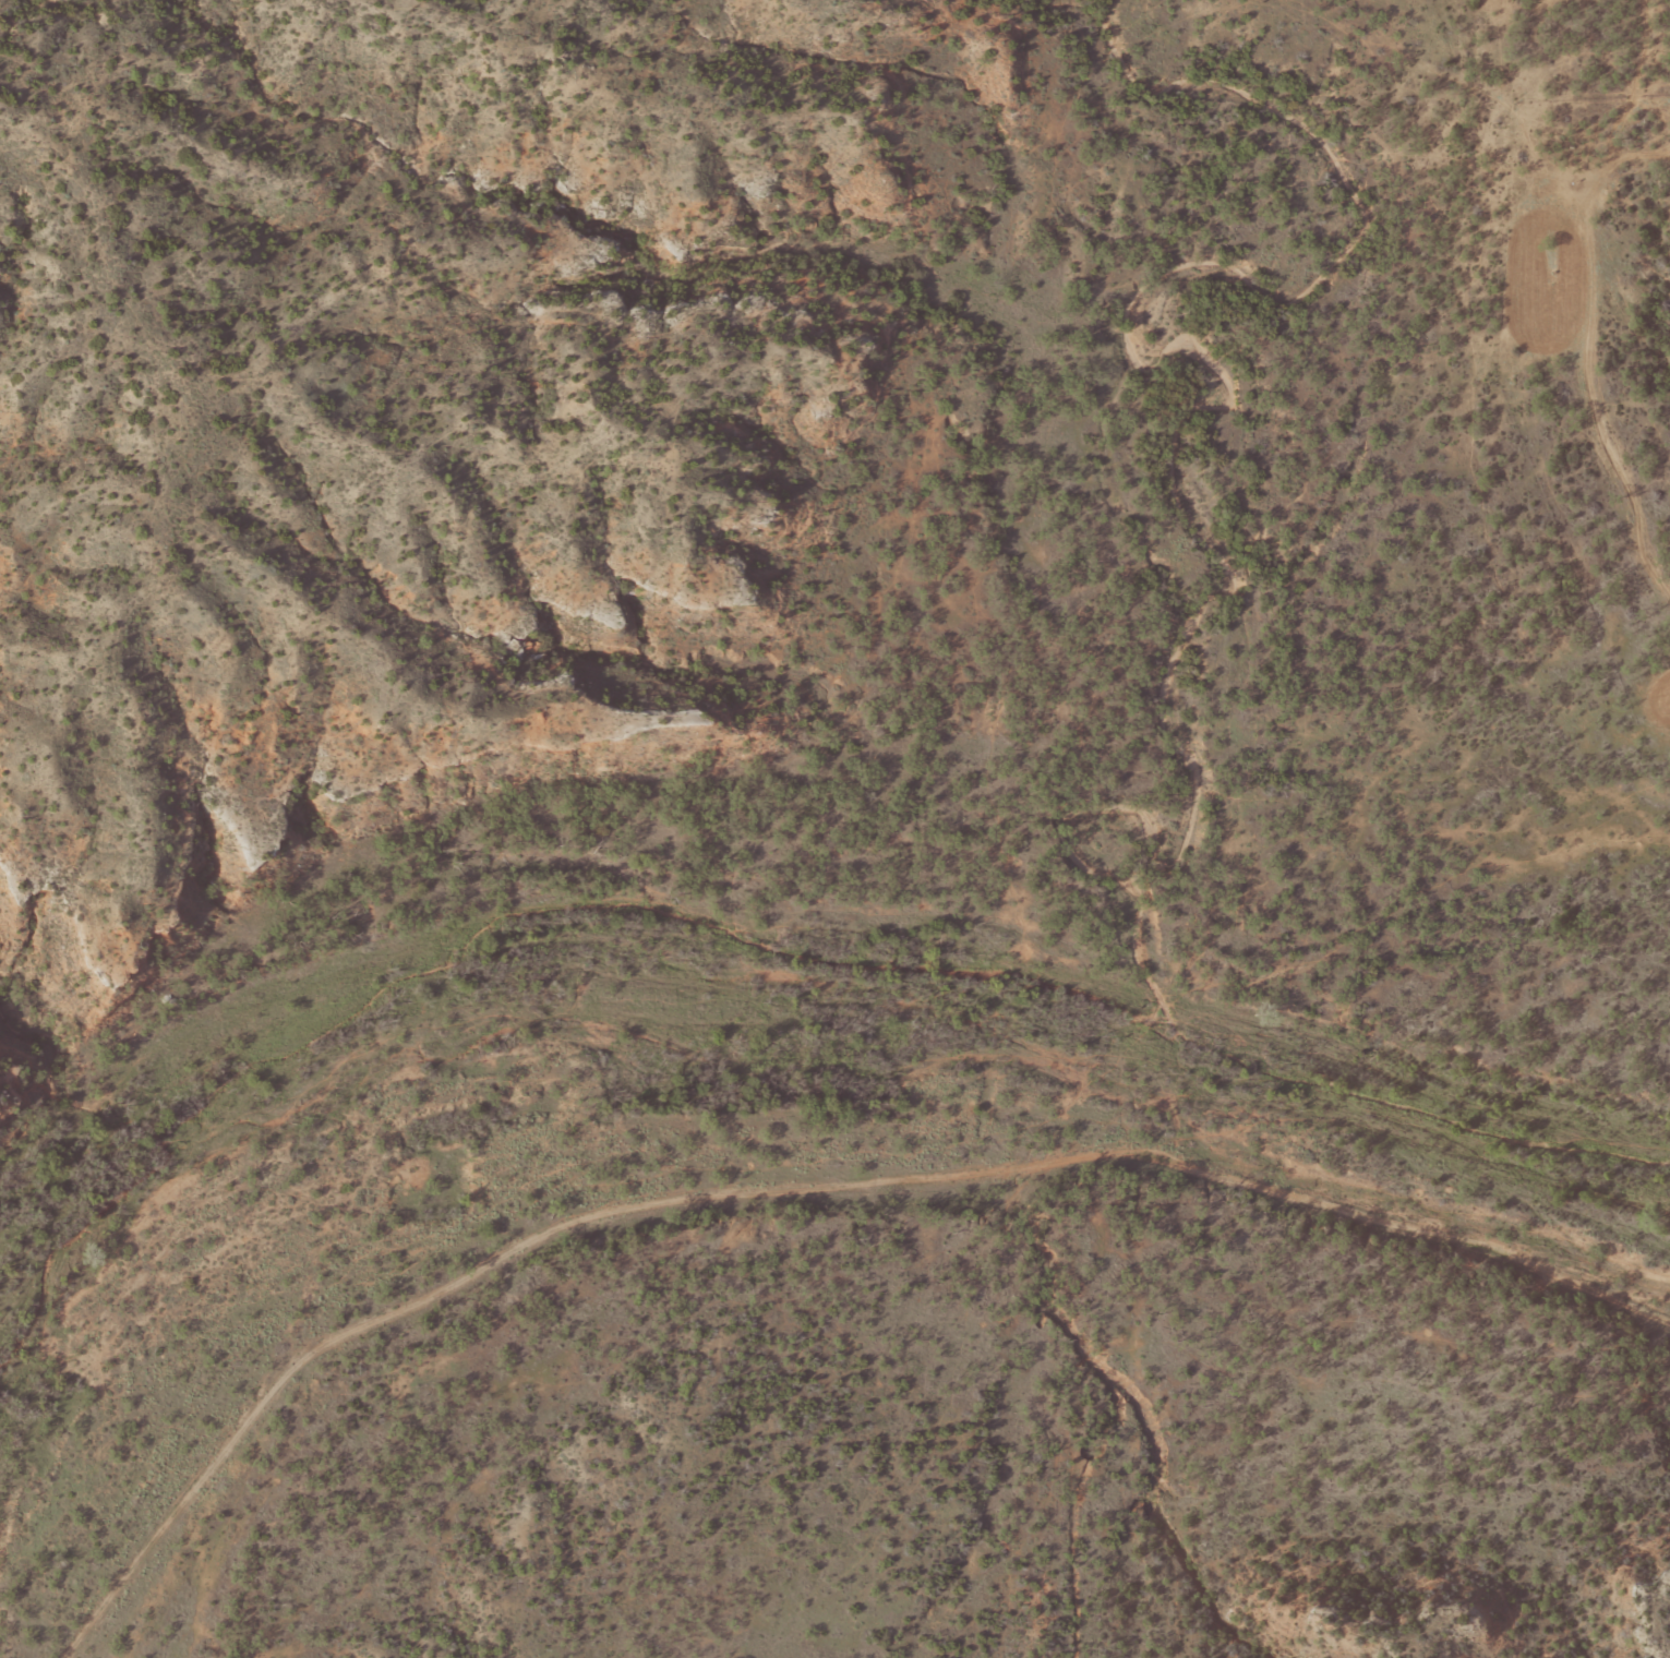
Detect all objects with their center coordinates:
road: (1597, 380)
road: (828, 1198)

